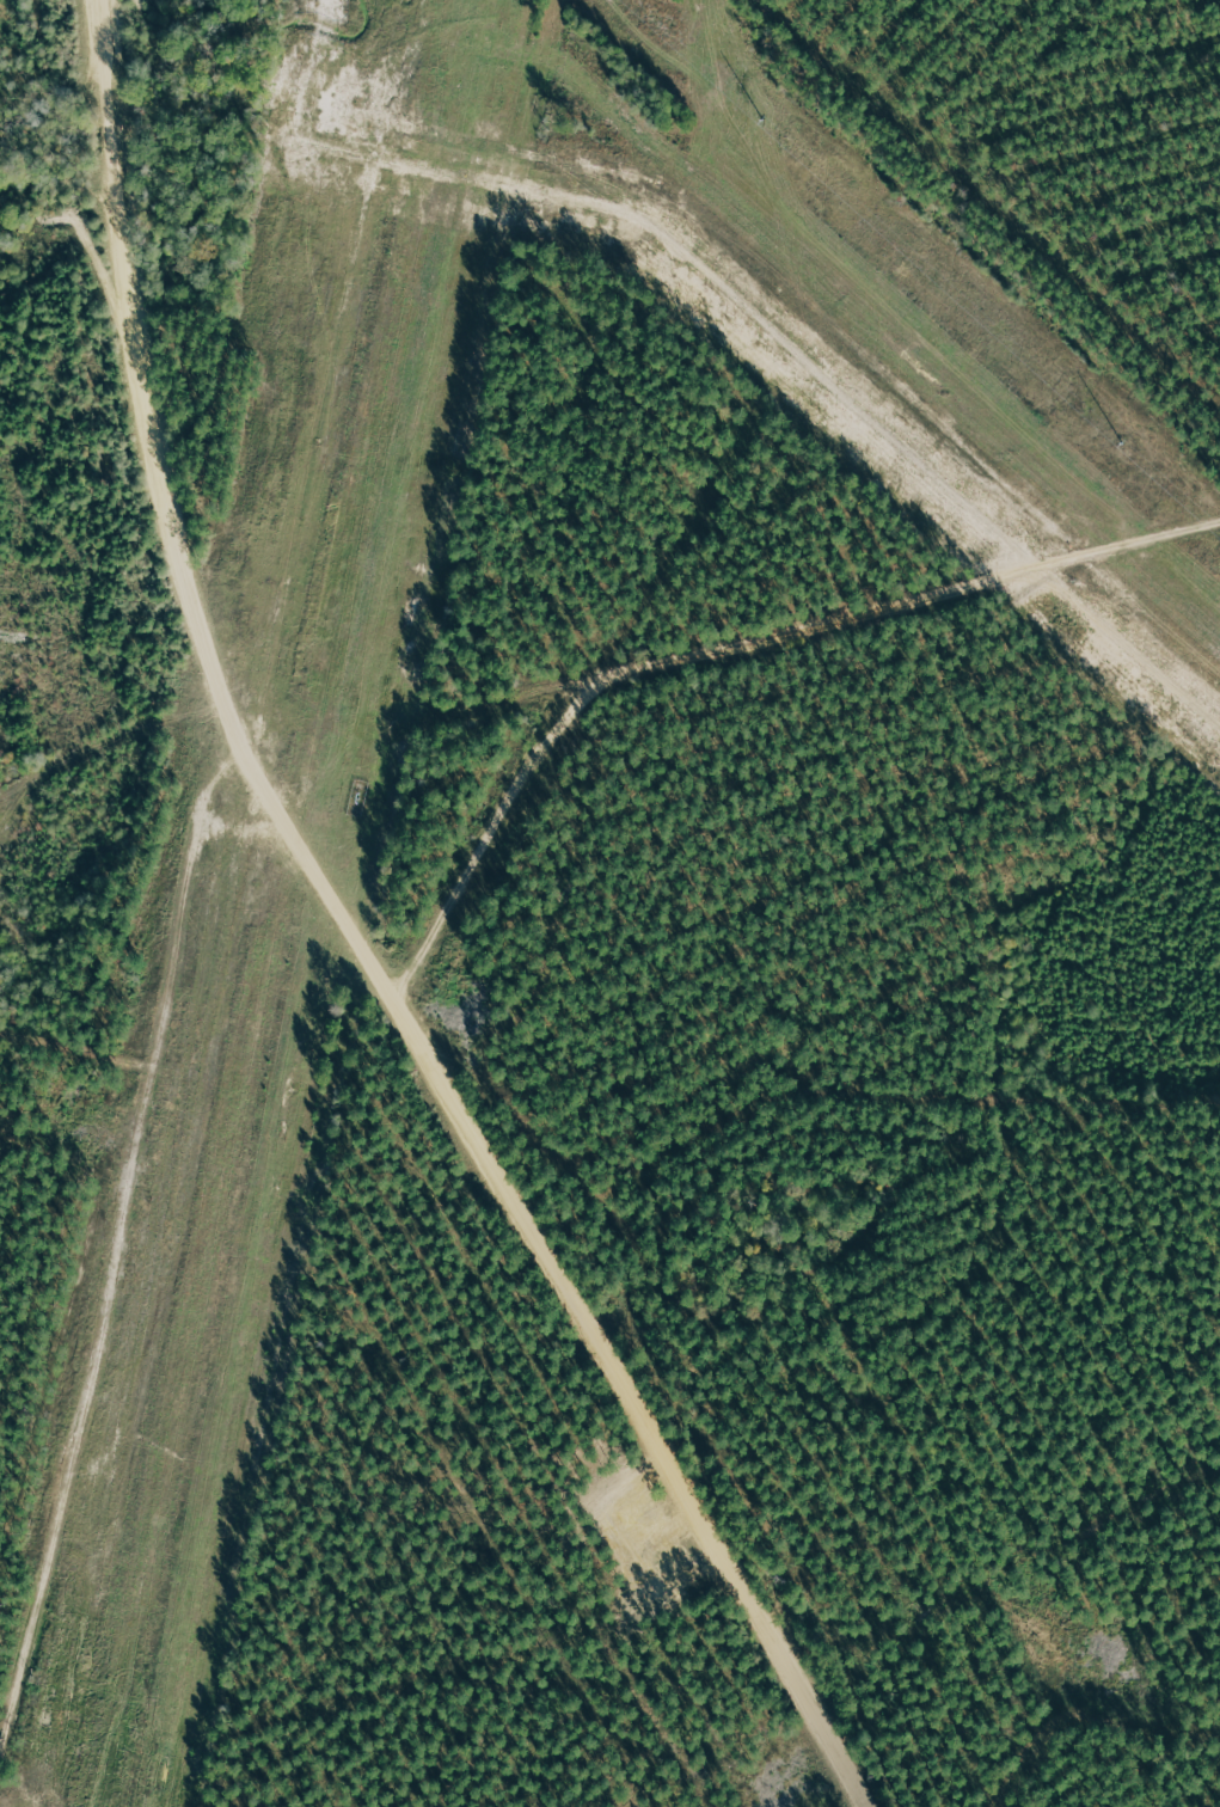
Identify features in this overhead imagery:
power tower: (785, 145)
power tower: (1127, 451)
road: (760, 625)
road: (410, 948)
road: (134, 1268)

